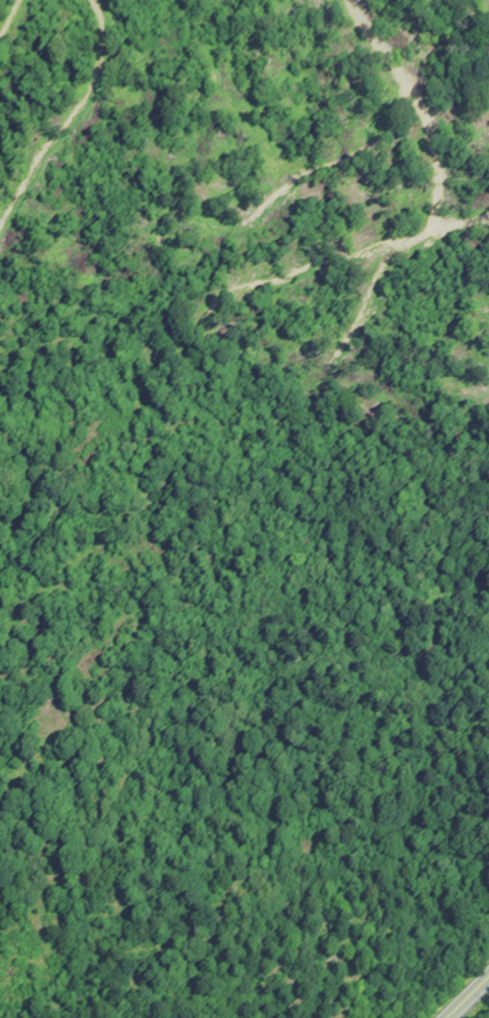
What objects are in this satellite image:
road: (466, 995)

